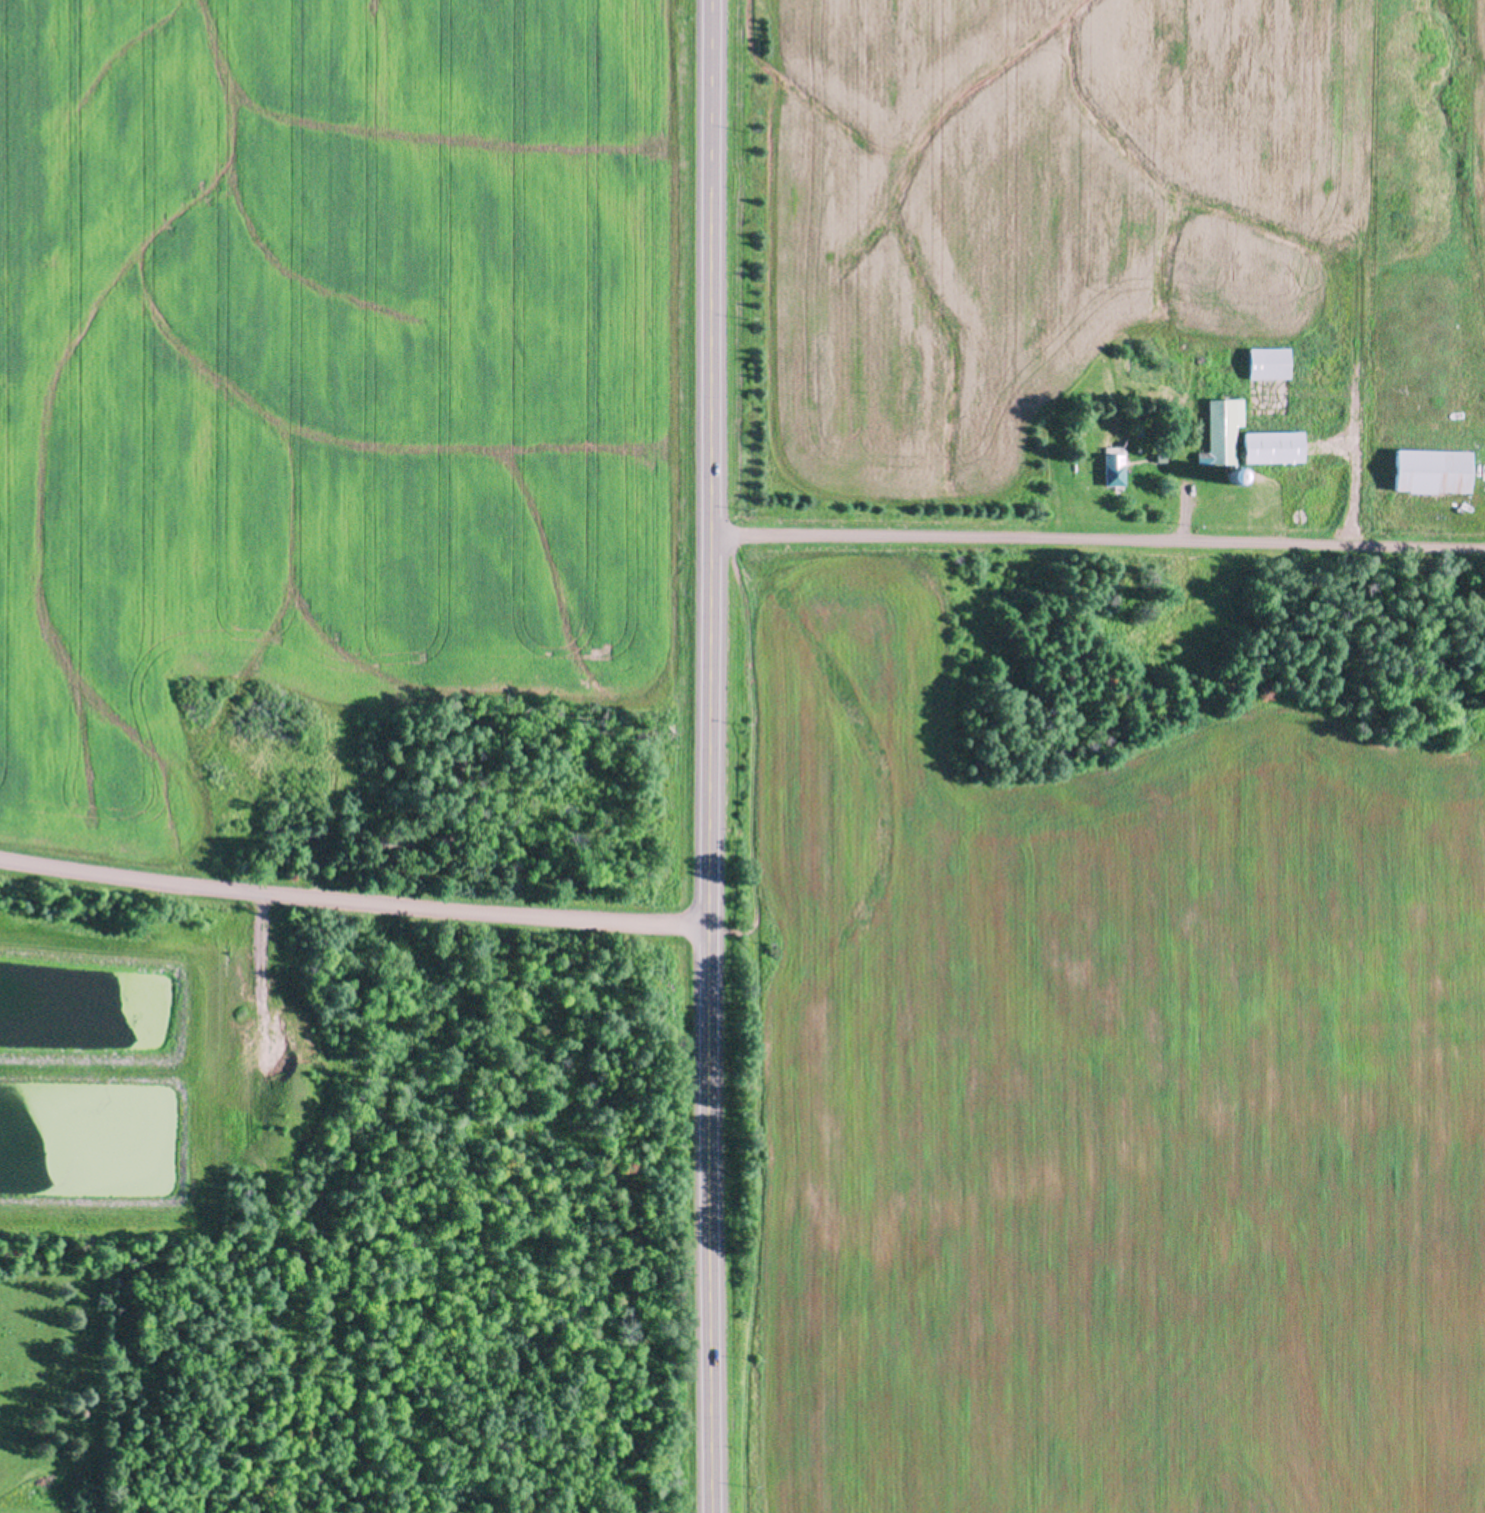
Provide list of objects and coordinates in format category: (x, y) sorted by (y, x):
building: (1270, 361)
building: (1223, 429)
building: (1274, 445)
building: (1162, 457)
building: (1115, 468)
building: (1434, 469)
building: (1235, 474)
building: (1321, 517)
road: (1098, 542)
road: (708, 756)
building: (308, 833)
building: (390, 842)
road: (351, 905)
park: (429, 1230)
park: (54, 1393)

